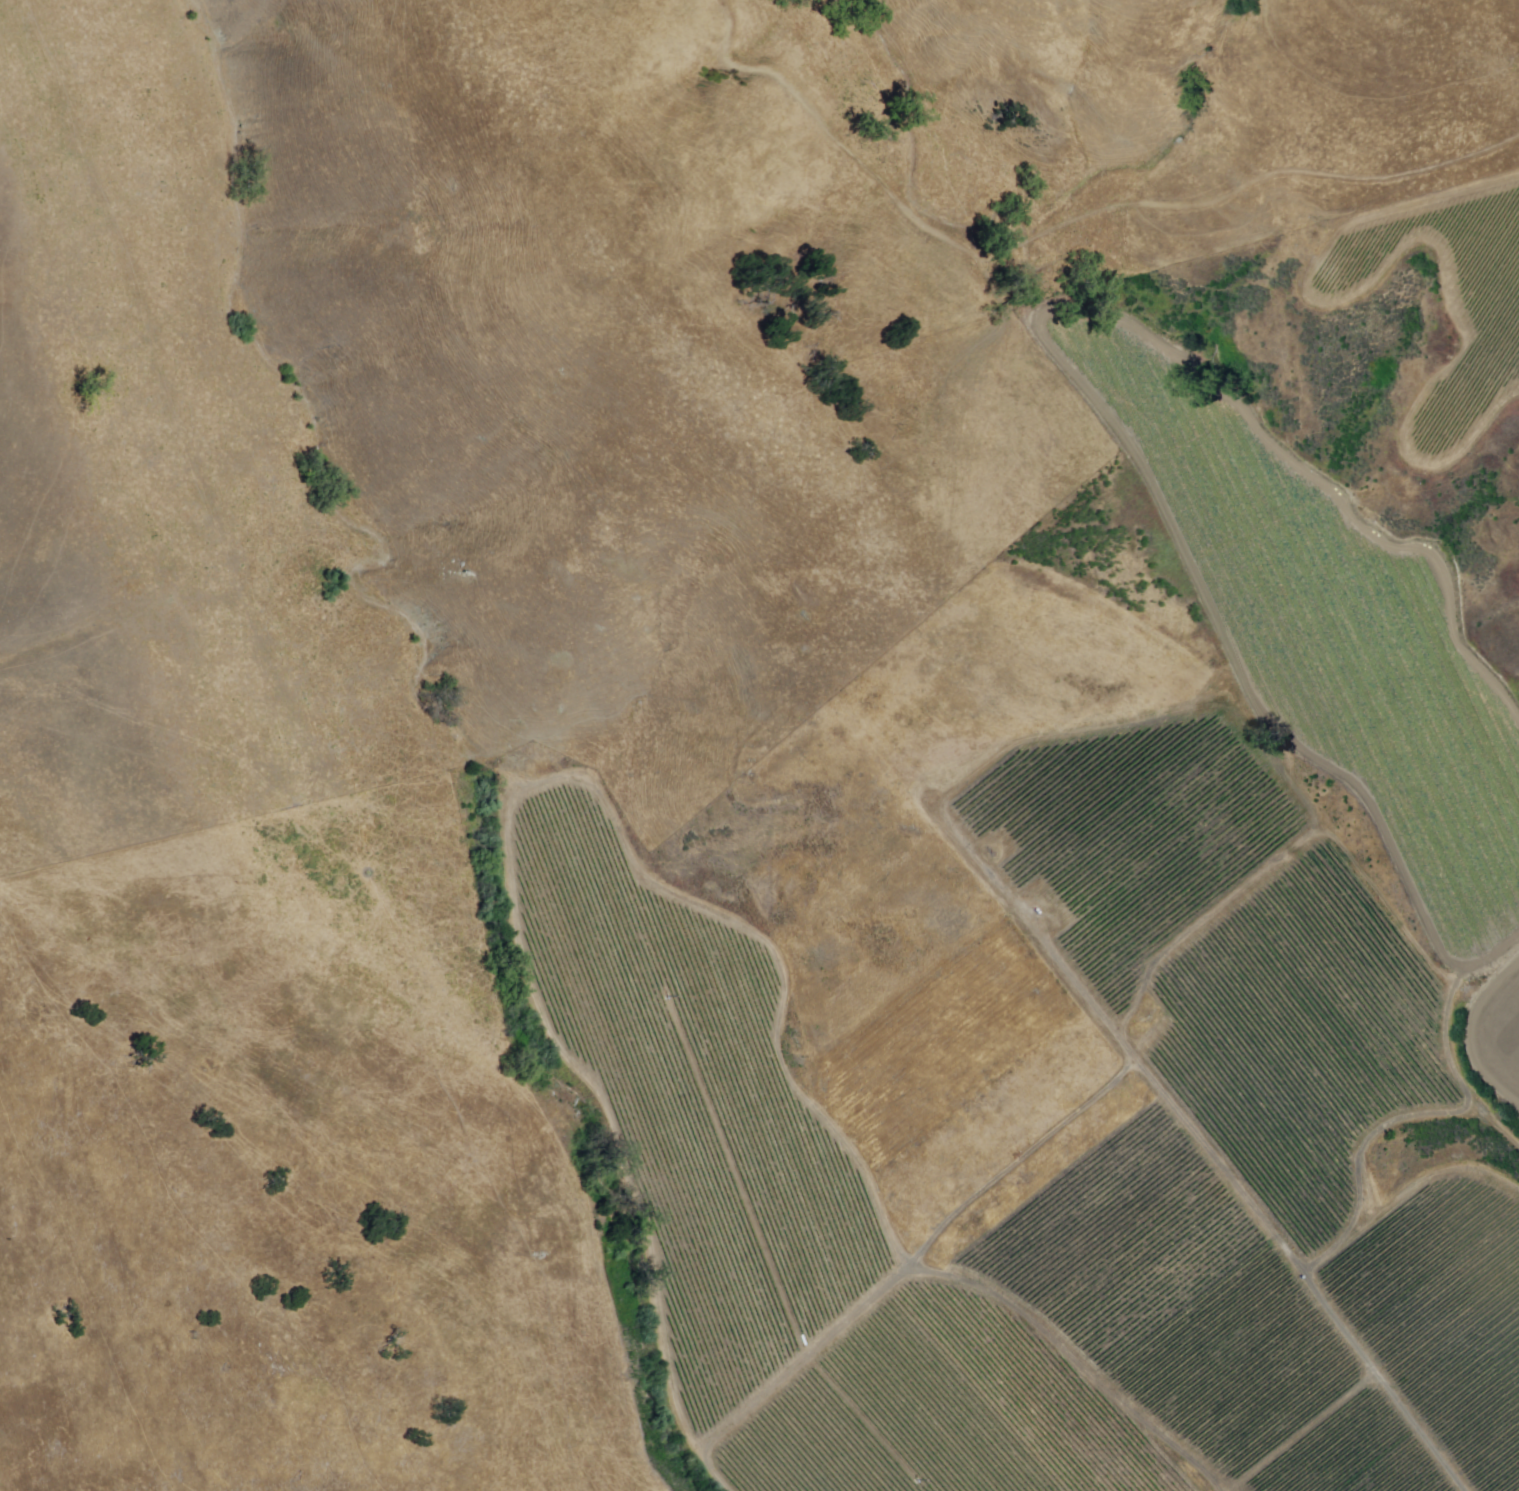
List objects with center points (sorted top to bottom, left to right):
crop: (1332, 634)
crop: (1087, 946)
crop: (1503, 1033)
crop: (1447, 1320)
crop: (1269, 1390)

